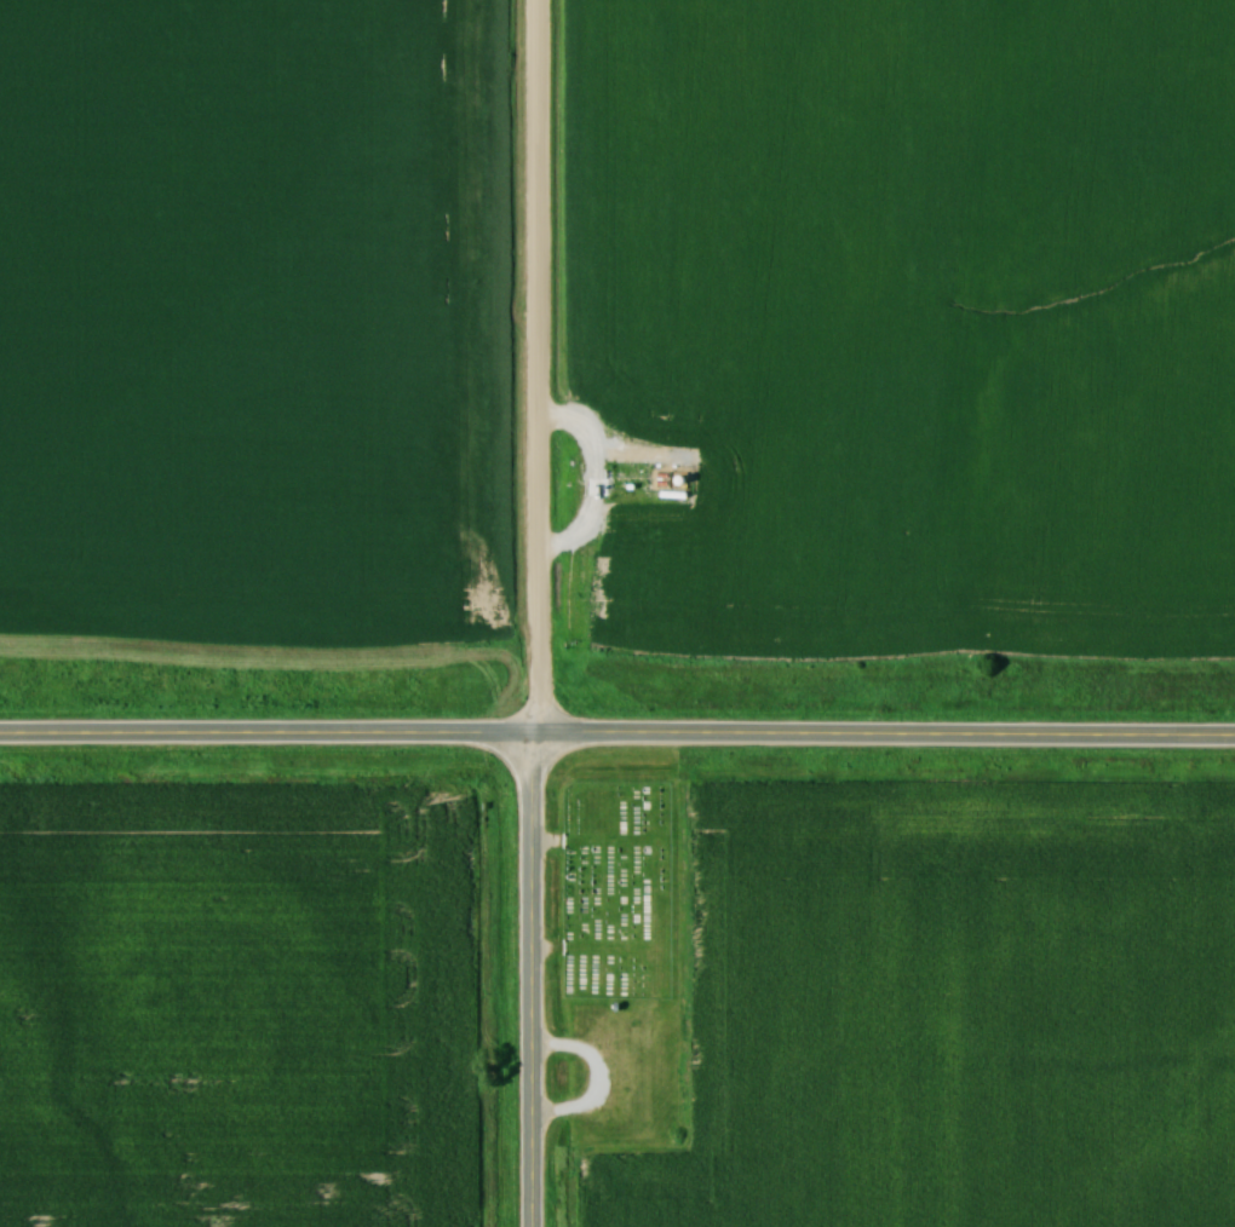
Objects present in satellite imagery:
road: (534, 358)
road: (617, 718)
park: (620, 892)
road: (541, 972)

